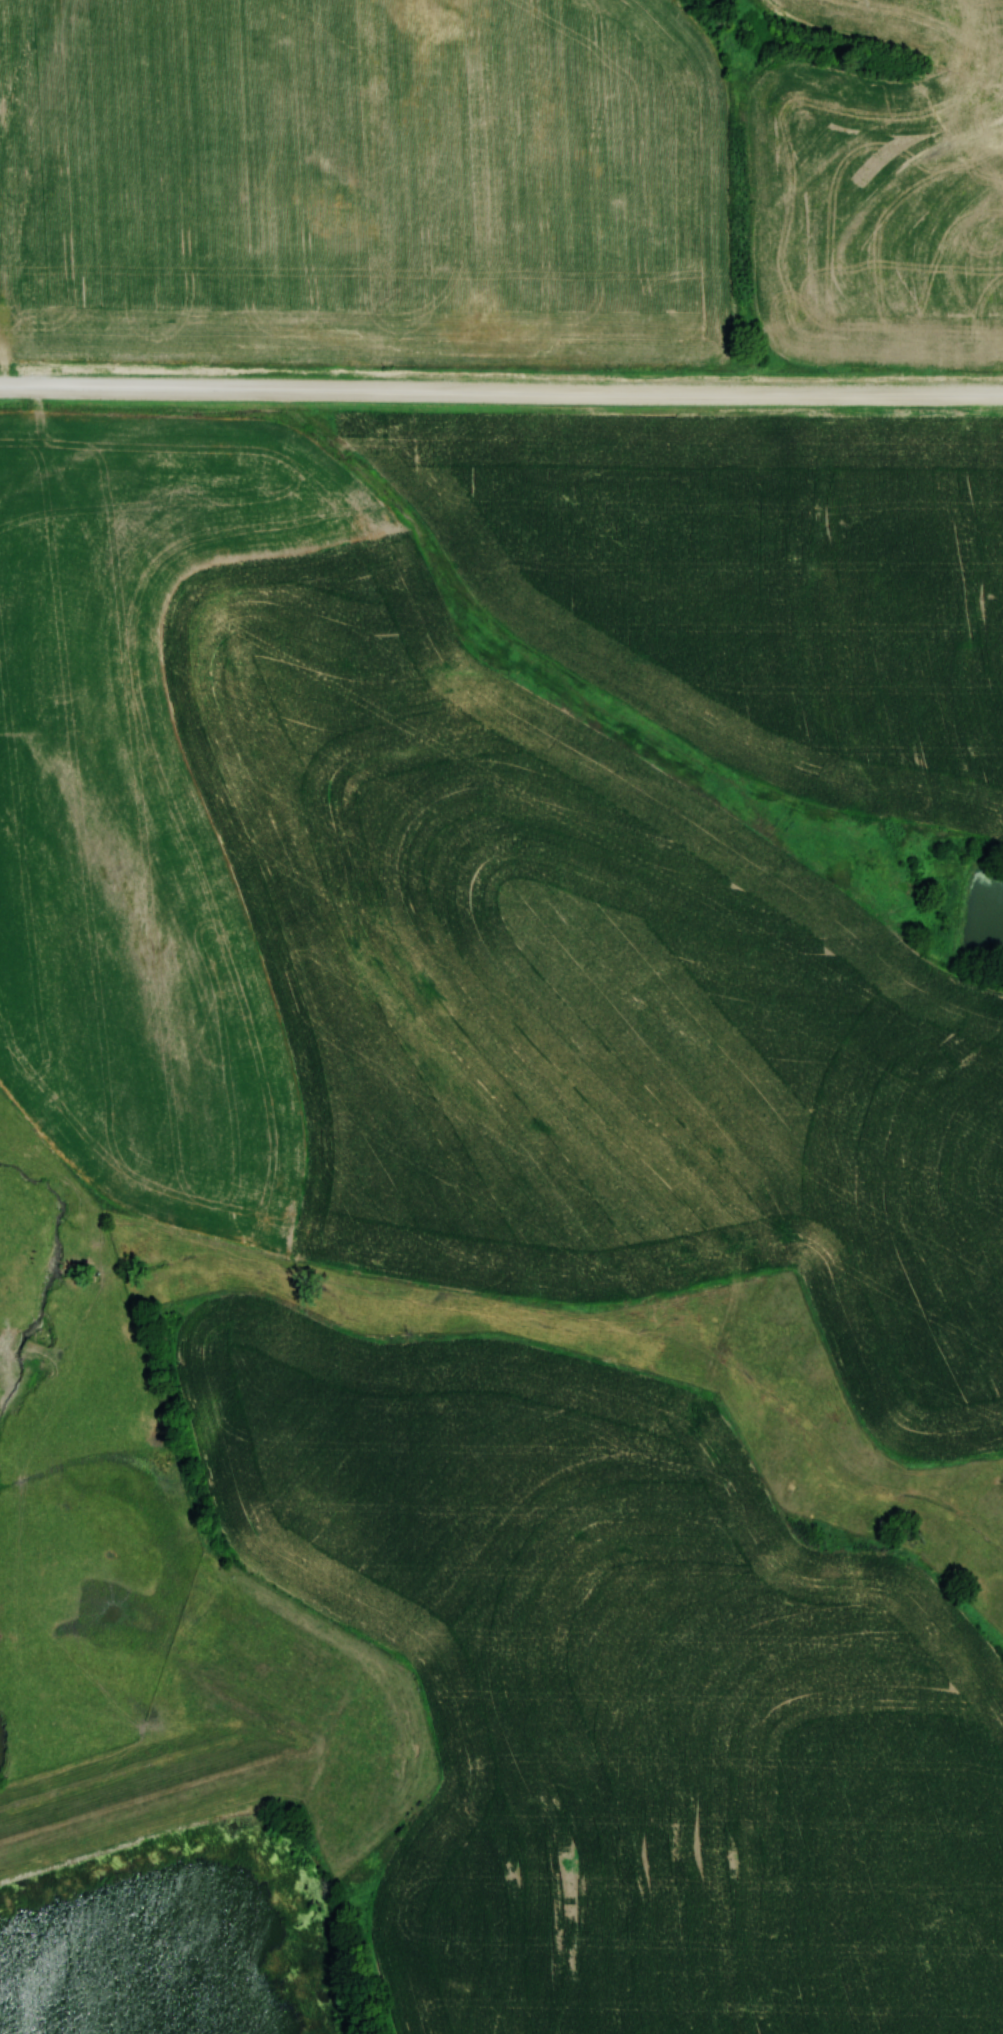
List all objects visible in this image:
road: (501, 387)
dam: (199, 1782)

